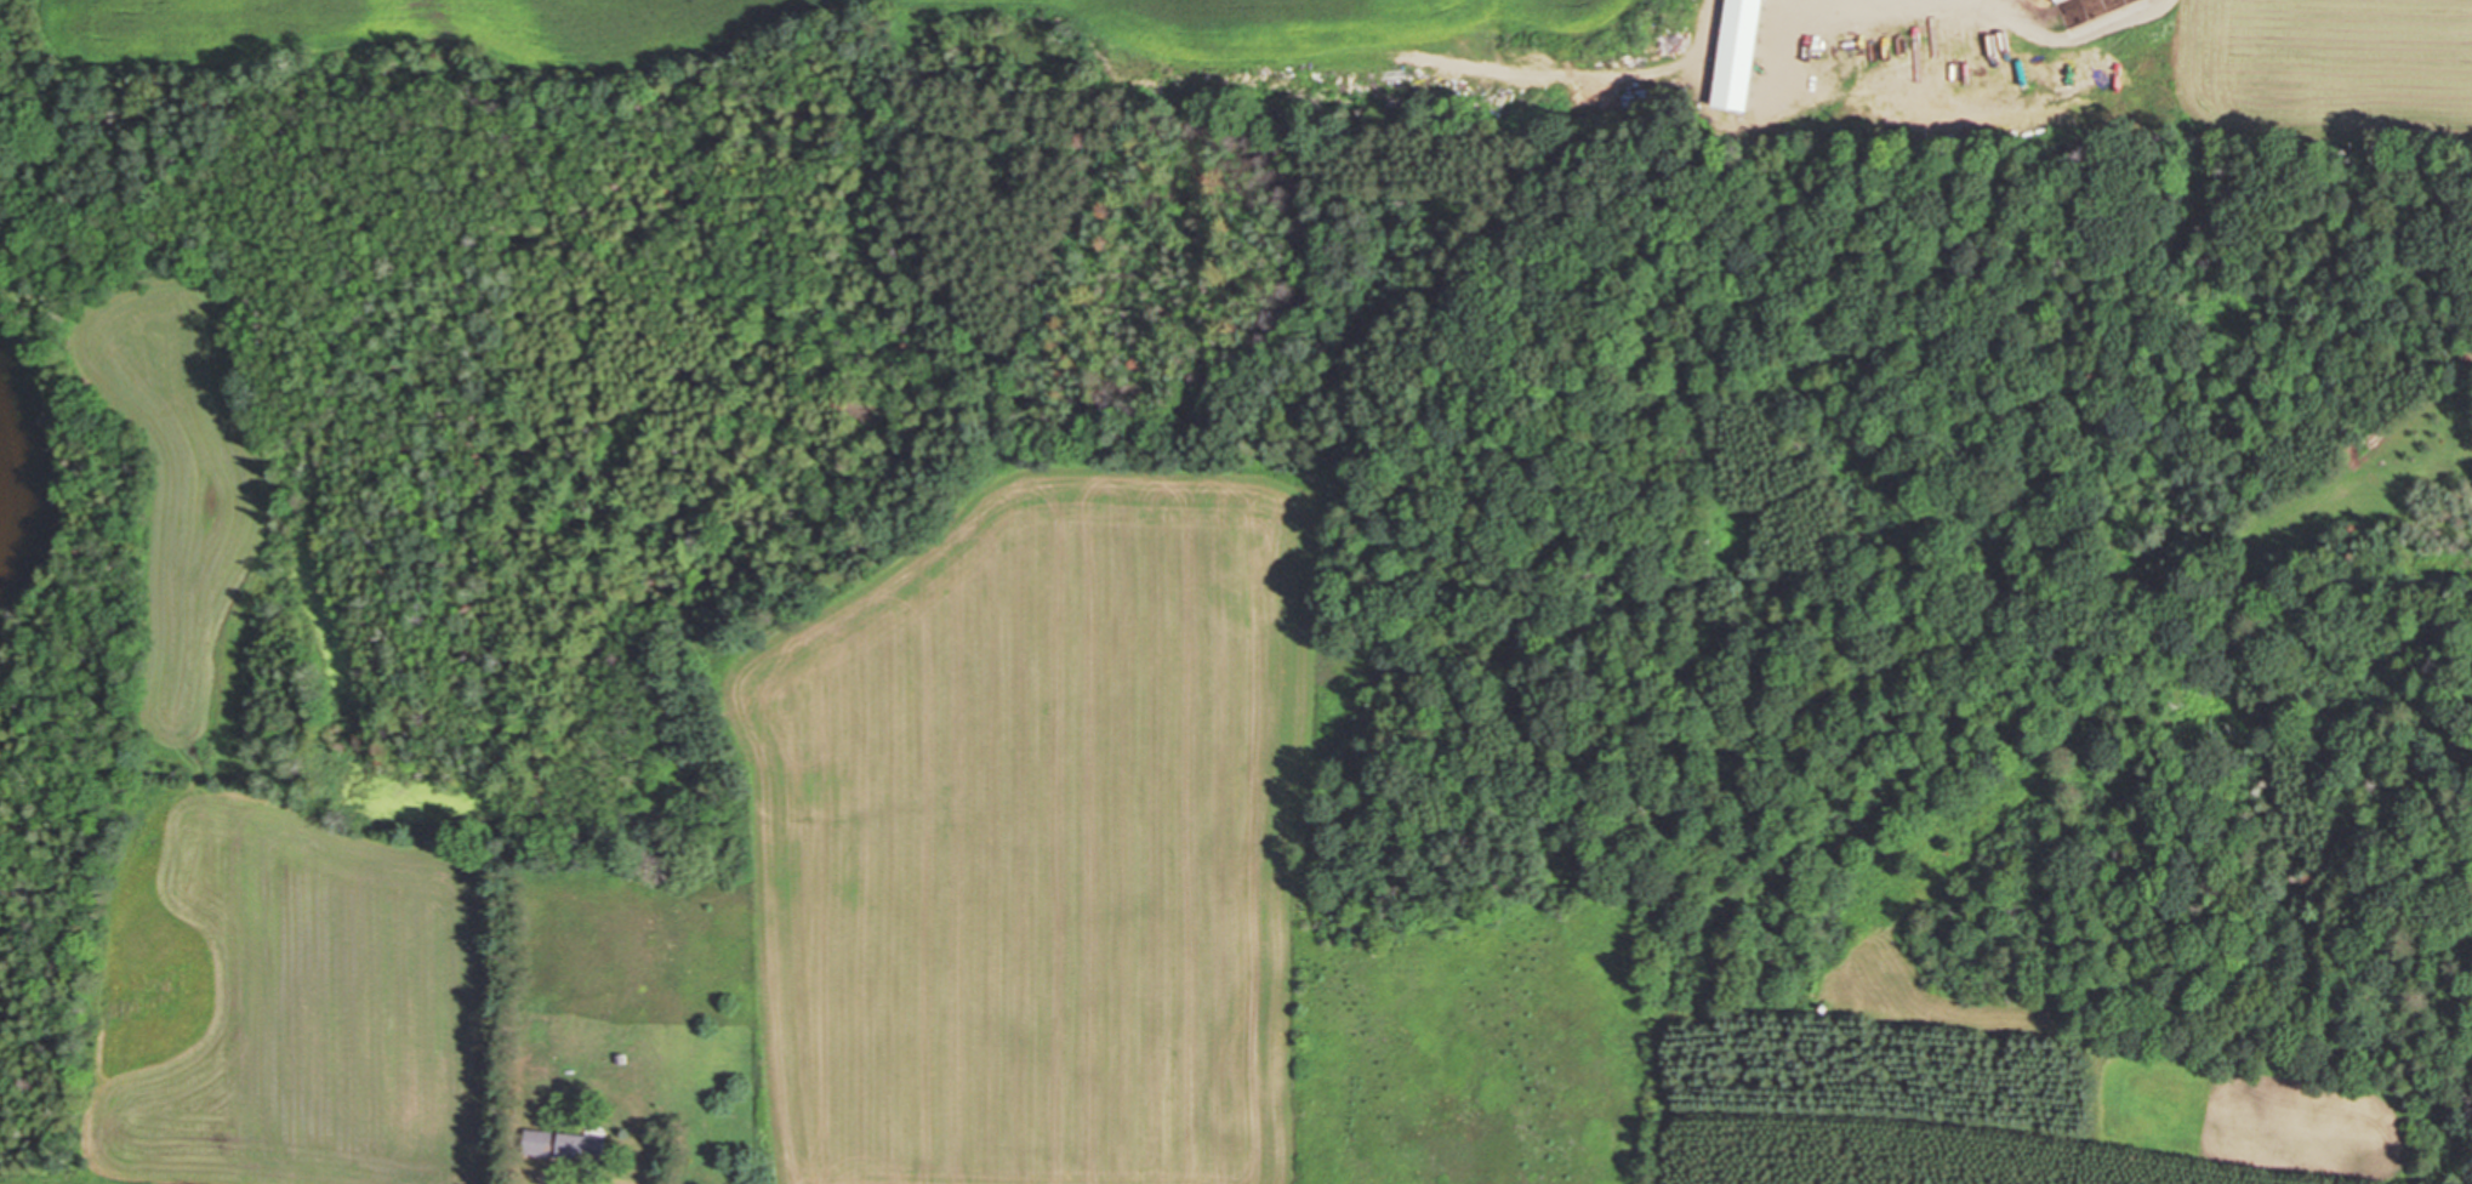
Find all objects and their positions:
river: (0, 461)
building: (568, 1145)

